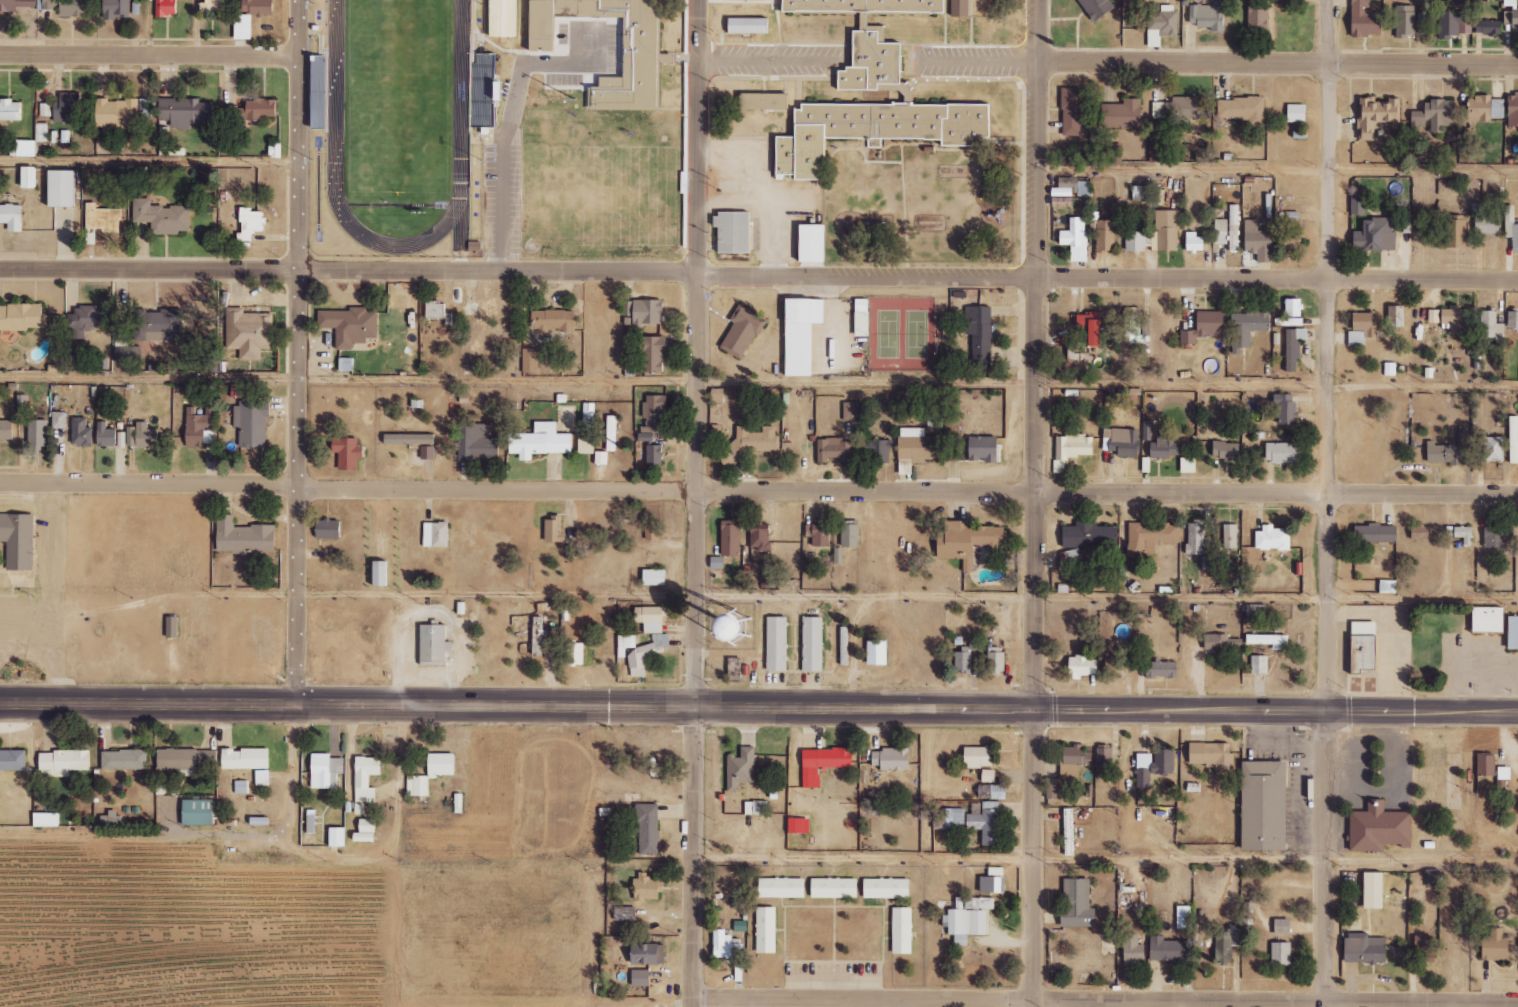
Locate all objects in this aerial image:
building: (1472, 1)
building: (15, 4)
building: (212, 5)
building: (70, 7)
building: (165, 7)
building: (258, 7)
building: (1098, 8)
building: (116, 9)
building: (969, 9)
building: (1208, 16)
building: (1257, 18)
building: (1511, 18)
building: (512, 19)
building: (1366, 20)
building: (1405, 21)
building: (1452, 23)
building: (1162, 25)
building: (243, 27)
building: (1488, 27)
building: (757, 29)
building: (878, 40)
building: (613, 50)
road: (150, 55)
road: (1278, 62)
building: (492, 92)
building: (326, 93)
park: (406, 96)
track: (470, 102)
building: (773, 104)
building: (66, 107)
building: (1183, 108)
building: (1485, 108)
building: (10, 109)
building: (1243, 109)
building: (1513, 109)
building: (255, 110)
building: (1073, 110)
building: (185, 112)
building: (1297, 113)
building: (1122, 114)
building: (1376, 116)
building: (1434, 116)
stadium: (408, 130)
building: (882, 131)
building: (1157, 149)
road: (150, 162)
road: (1277, 168)
building: (29, 177)
building: (62, 188)
track: (342, 189)
building: (1084, 189)
building: (1142, 193)
building: (1358, 203)
building: (12, 217)
building: (161, 217)
building: (102, 218)
building: (1484, 220)
building: (250, 223)
building: (1511, 226)
building: (1233, 228)
track: (469, 230)
building: (1168, 230)
building: (1219, 231)
building: (741, 234)
building: (1456, 234)
building: (1105, 235)
building: (1375, 236)
building: (1076, 239)
building: (1135, 241)
building: (1257, 241)
building: (1194, 242)
building: (820, 245)
road: (758, 273)
building: (435, 309)
building: (644, 311)
building: (1291, 313)
building: (1396, 316)
building: (1434, 316)
building: (22, 317)
building: (863, 317)
building: (1457, 319)
building: (85, 320)
building: (554, 320)
building: (158, 325)
building: (350, 325)
building: (1094, 326)
building: (1129, 327)
building: (1205, 327)
building: (1247, 328)
building: (1364, 328)
building: (1492, 328)
building: (743, 331)
building: (248, 333)
building: (802, 334)
building: (980, 334)
park: (896, 339)
park: (924, 339)
building: (1293, 349)
road: (299, 353)
building: (653, 354)
building: (530, 361)
building: (346, 364)
road: (758, 385)
building: (717, 395)
building: (1285, 408)
building: (21, 410)
building: (852, 411)
building: (654, 413)
building: (58, 420)
building: (251, 423)
building: (199, 426)
building: (6, 430)
building: (1146, 430)
building: (36, 433)
building: (81, 433)
building: (611, 433)
building: (106, 435)
building: (142, 436)
building: (409, 439)
building: (540, 441)
building: (1124, 441)
building: (752, 442)
building: (479, 443)
building: (587, 444)
building: (918, 446)
building: (1514, 446)
building: (1072, 447)
building: (1165, 447)
building: (983, 448)
building: (833, 449)
building: (876, 449)
building: (1493, 449)
building: (1226, 450)
building: (348, 452)
building: (427, 452)
building: (1282, 452)
building: (654, 454)
road: (758, 491)
road: (697, 503)
road: (1036, 503)
road: (1328, 503)
building: (328, 529)
building: (555, 530)
building: (652, 530)
building: (1421, 532)
building: (1460, 533)
building: (819, 534)
building: (850, 534)
building: (1375, 534)
building: (436, 535)
building: (1090, 536)
building: (1151, 536)
building: (1230, 536)
building: (1496, 536)
building: (1195, 538)
building: (253, 539)
building: (731, 539)
building: (760, 539)
building: (24, 541)
building: (968, 541)
building: (1266, 544)
building: (838, 555)
building: (765, 573)
building: (382, 574)
building: (655, 577)
building: (1388, 587)
road: (907, 601)
building: (1256, 612)
building: (650, 619)
building: (1489, 620)
building: (172, 627)
building: (180, 629)
building: (1513, 633)
building: (539, 635)
building: (771, 639)
building: (1269, 640)
building: (1221, 642)
building: (813, 644)
building: (442, 646)
building: (1364, 646)
building: (640, 652)
building: (575, 653)
building: (877, 653)
building: (966, 656)
building: (994, 659)
building: (1259, 664)
building: (1083, 666)
building: (1114, 667)
building: (734, 669)
building: (1161, 669)
road: (759, 704)
building: (1104, 754)
building: (1211, 755)
building: (1078, 756)
building: (979, 757)
building: (892, 759)
building: (134, 762)
building: (18, 763)
building: (187, 763)
building: (823, 763)
building: (74, 765)
building: (256, 765)
building: (1486, 765)
building: (1154, 766)
building: (748, 771)
building: (332, 773)
building: (1504, 773)
building: (988, 776)
building: (439, 777)
building: (374, 783)
building: (1052, 789)
building: (250, 790)
building: (1272, 806)
building: (467, 807)
building: (765, 812)
building: (207, 814)
building: (949, 819)
building: (986, 822)
building: (319, 823)
building: (55, 824)
building: (311, 824)
building: (800, 826)
building: (656, 830)
building: (366, 831)
building: (1388, 831)
building: (1069, 832)
building: (374, 835)
building: (345, 840)
road: (211, 841)
road: (405, 842)
road: (1107, 862)
building: (1433, 878)
building: (993, 881)
building: (782, 888)
building: (834, 888)
building: (887, 888)
building: (1374, 891)
building: (656, 892)
building: (1078, 904)
building: (625, 914)
building: (1184, 917)
building: (633, 918)
building: (968, 918)
building: (1283, 927)
building: (765, 930)
building: (902, 931)
building: (1223, 946)
building: (1495, 946)
building: (726, 947)
building: (1423, 948)
building: (1366, 949)
building: (1169, 950)
building: (1133, 951)
building: (1281, 954)
building: (653, 957)
building: (641, 978)
building: (649, 981)
road: (1106, 1001)

